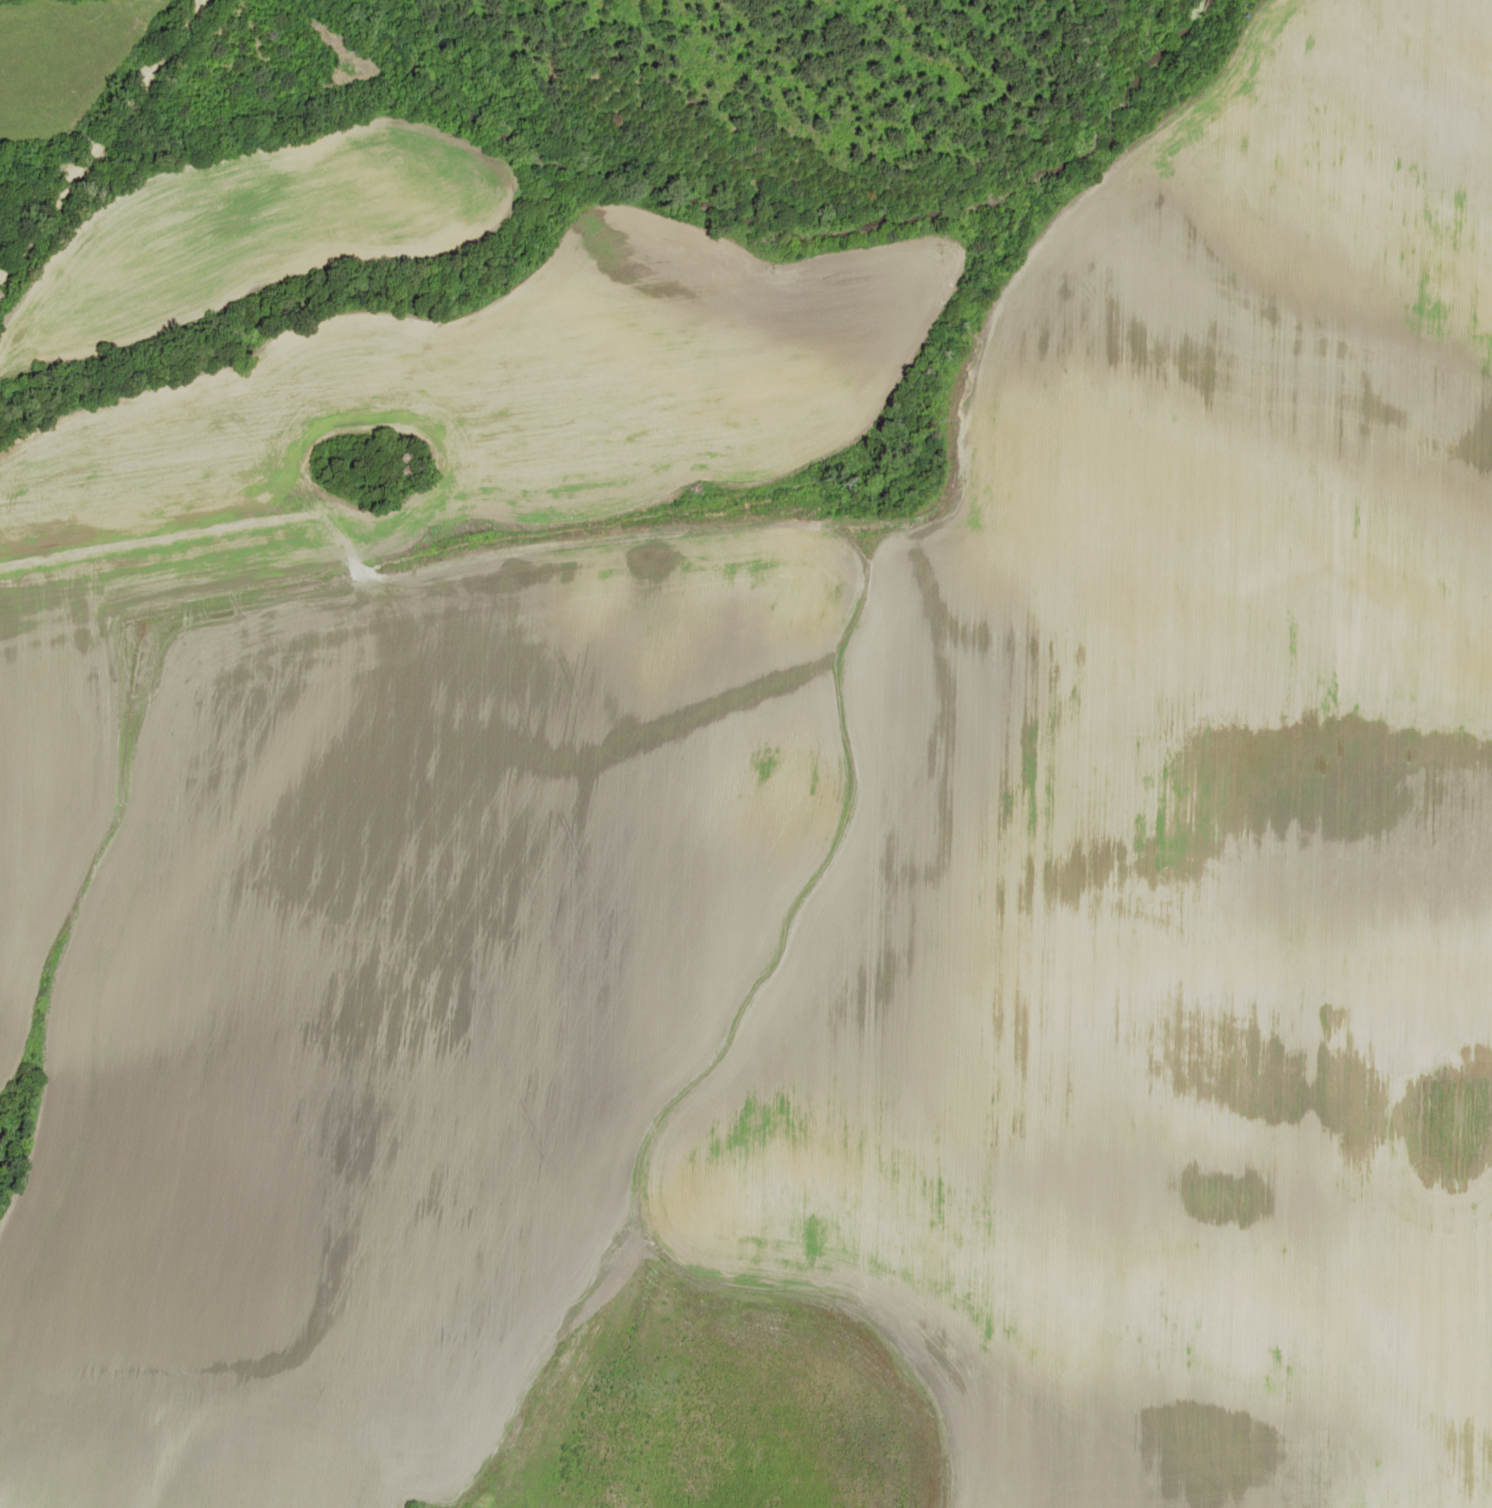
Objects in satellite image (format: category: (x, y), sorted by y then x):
road: (112, 132)

